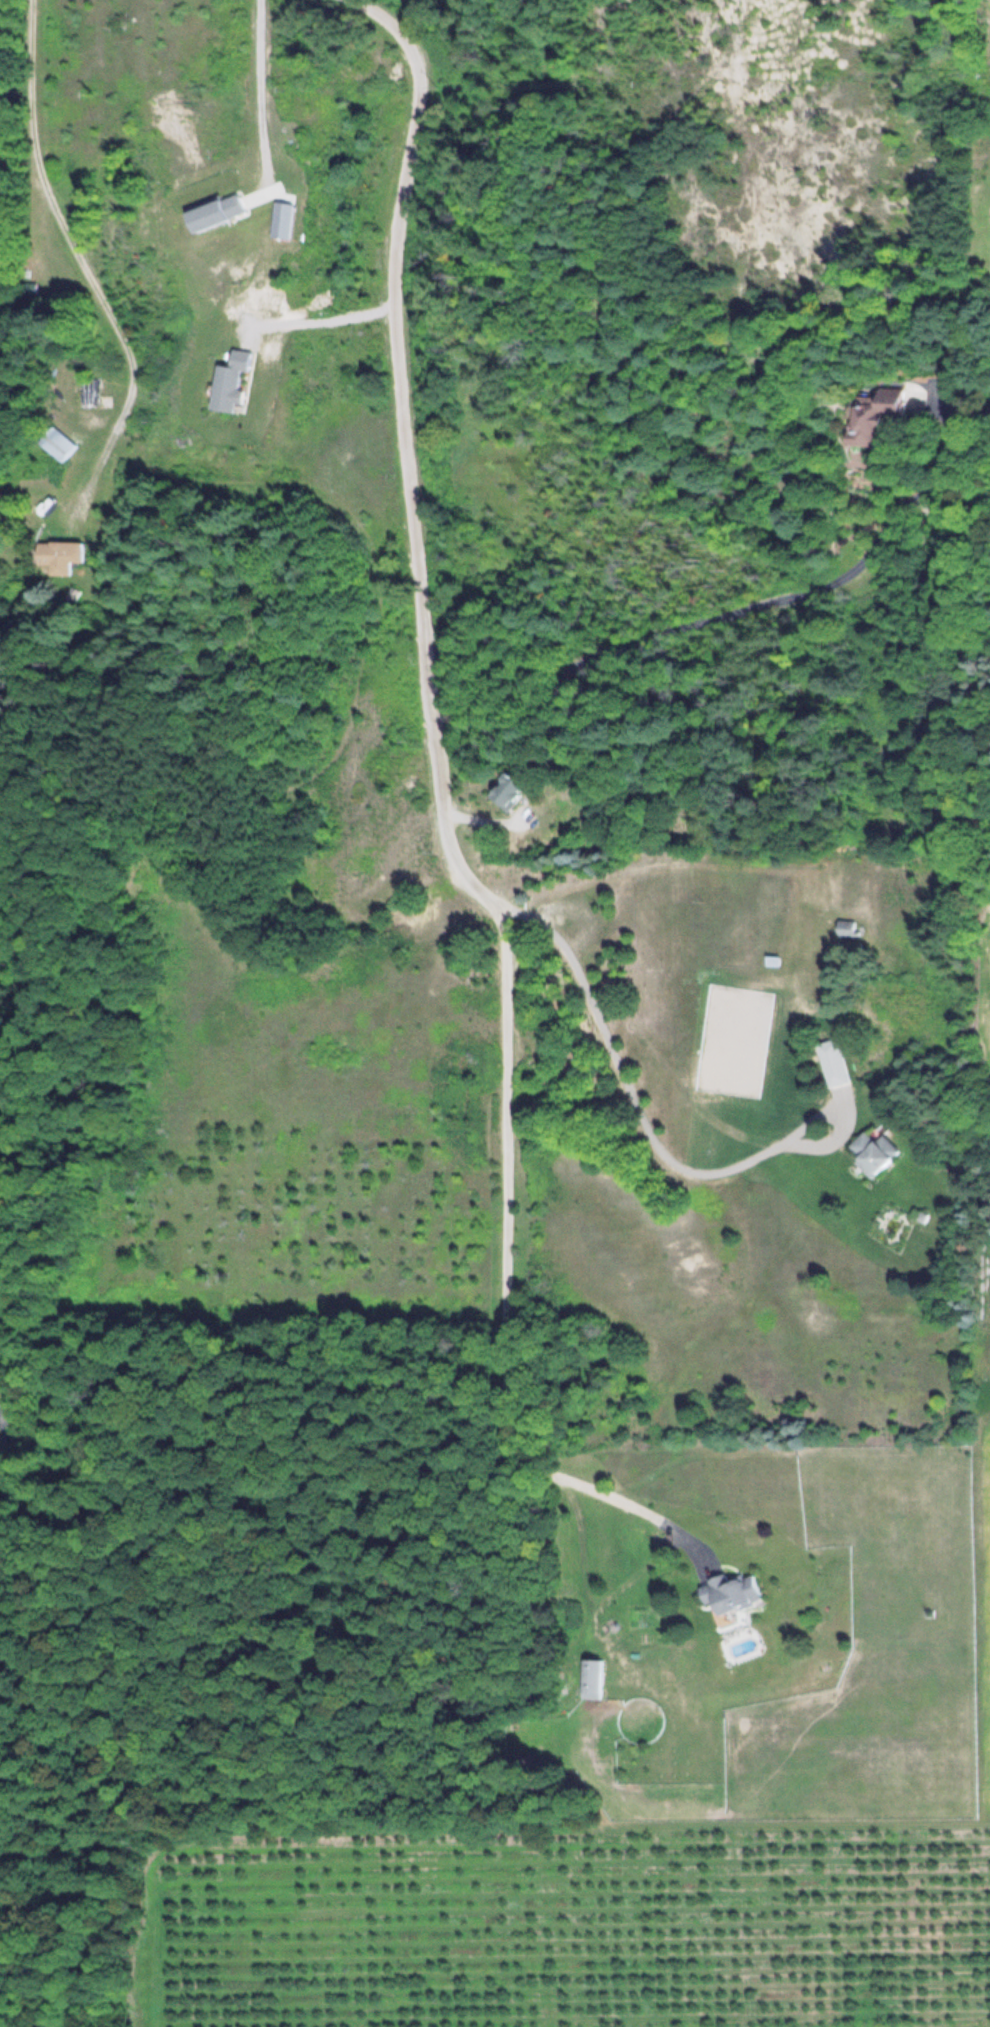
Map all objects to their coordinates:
building: (0, 27)
building: (209, 212)
building: (27, 289)
building: (227, 381)
building: (869, 414)
building: (47, 447)
road: (409, 471)
building: (57, 554)
road: (736, 611)
building: (503, 791)
building: (843, 927)
building: (871, 1152)
building: (728, 1592)
building: (589, 1678)

